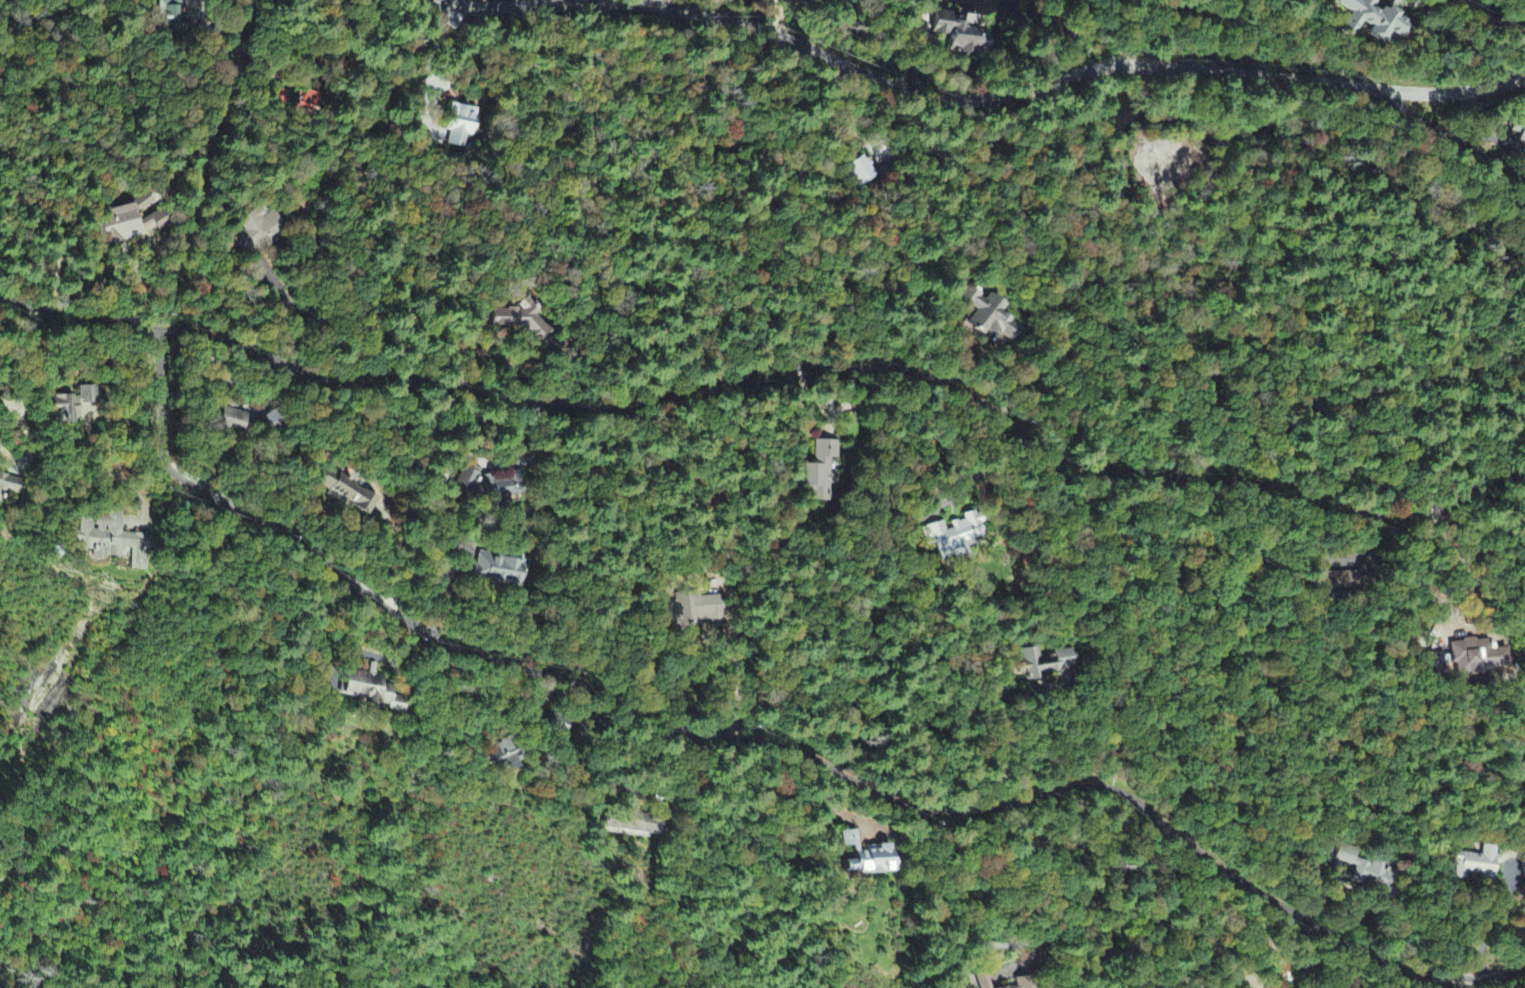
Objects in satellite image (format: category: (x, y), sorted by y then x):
building: (172, 16)
road: (1495, 20)
building: (1364, 21)
road: (904, 83)
road: (1456, 93)
building: (455, 128)
building: (1516, 132)
road: (1456, 138)
building: (134, 223)
building: (260, 234)
road: (78, 315)
building: (988, 319)
building: (521, 321)
road: (862, 369)
park: (1242, 376)
building: (77, 405)
building: (235, 422)
building: (819, 474)
building: (12, 487)
building: (954, 537)
building: (496, 571)
building: (1337, 583)
building: (695, 611)
building: (1042, 665)
road: (777, 750)
building: (499, 758)
building: (636, 825)
building: (864, 858)
building: (1474, 867)
building: (1365, 872)
building: (979, 982)
building: (1018, 984)

